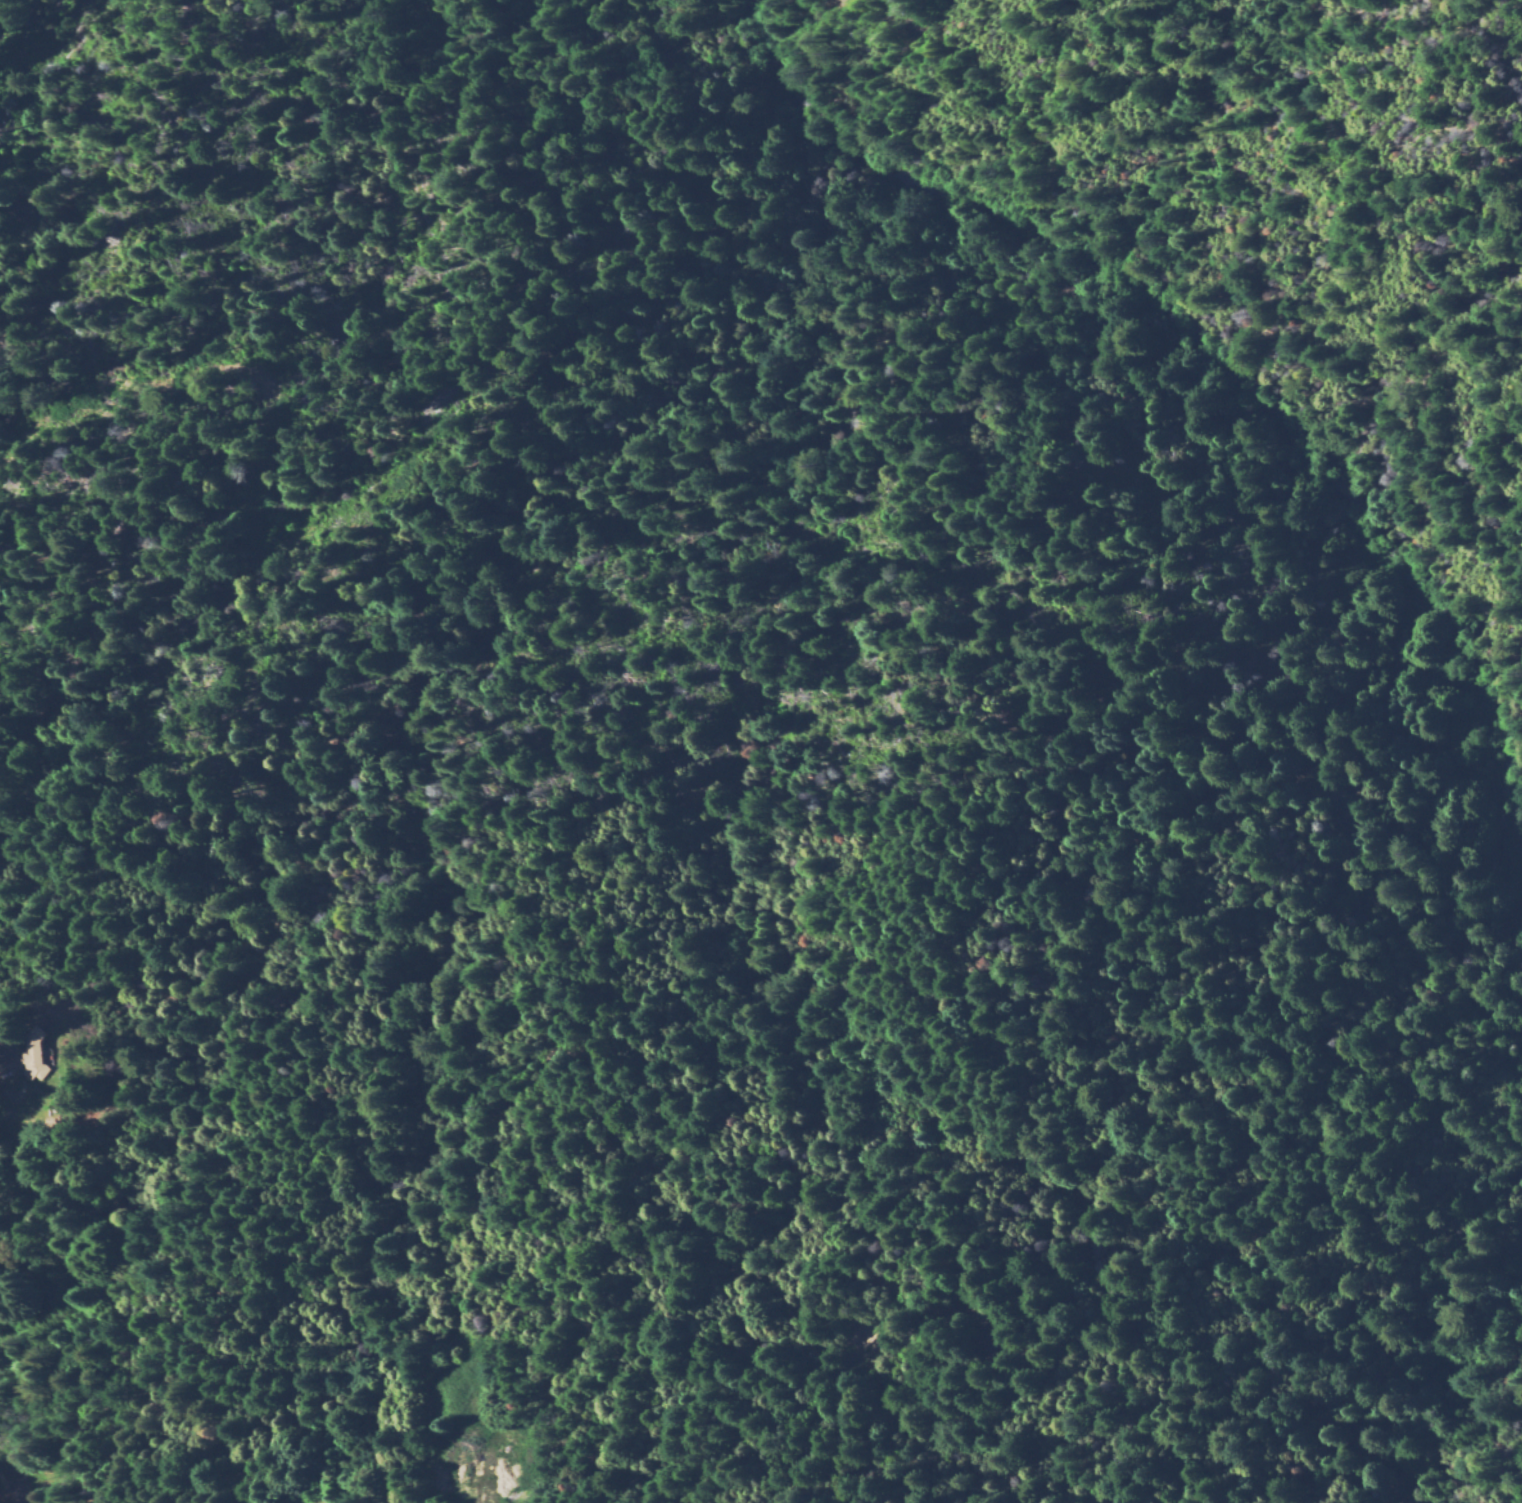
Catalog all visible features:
building: (38, 1054)
road: (562, 1268)
road: (1453, 1289)
building: (987, 1335)

